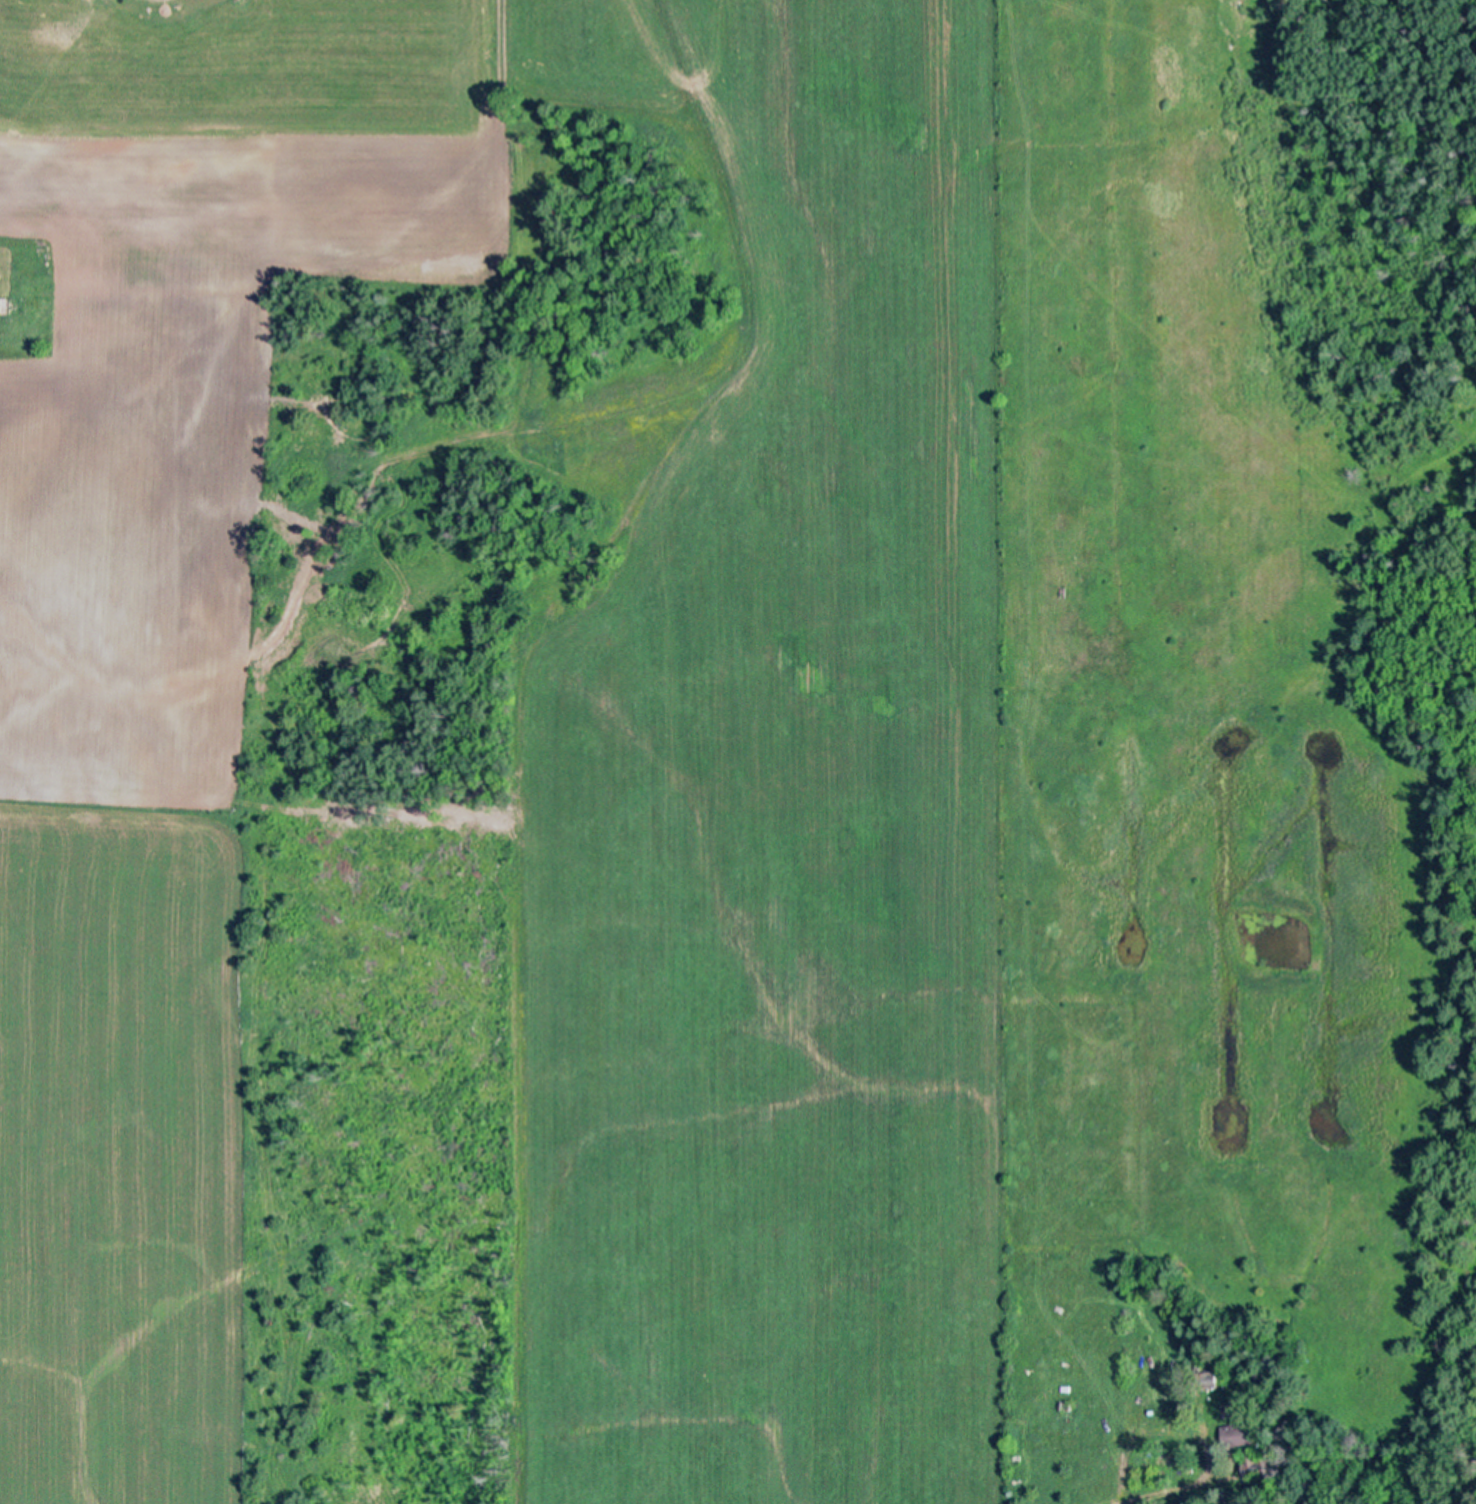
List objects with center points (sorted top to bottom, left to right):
building: (3, 305)
building: (1212, 1379)
building: (1214, 1405)
building: (1232, 1408)
building: (1240, 1433)
building: (1158, 1461)
building: (1258, 1465)

